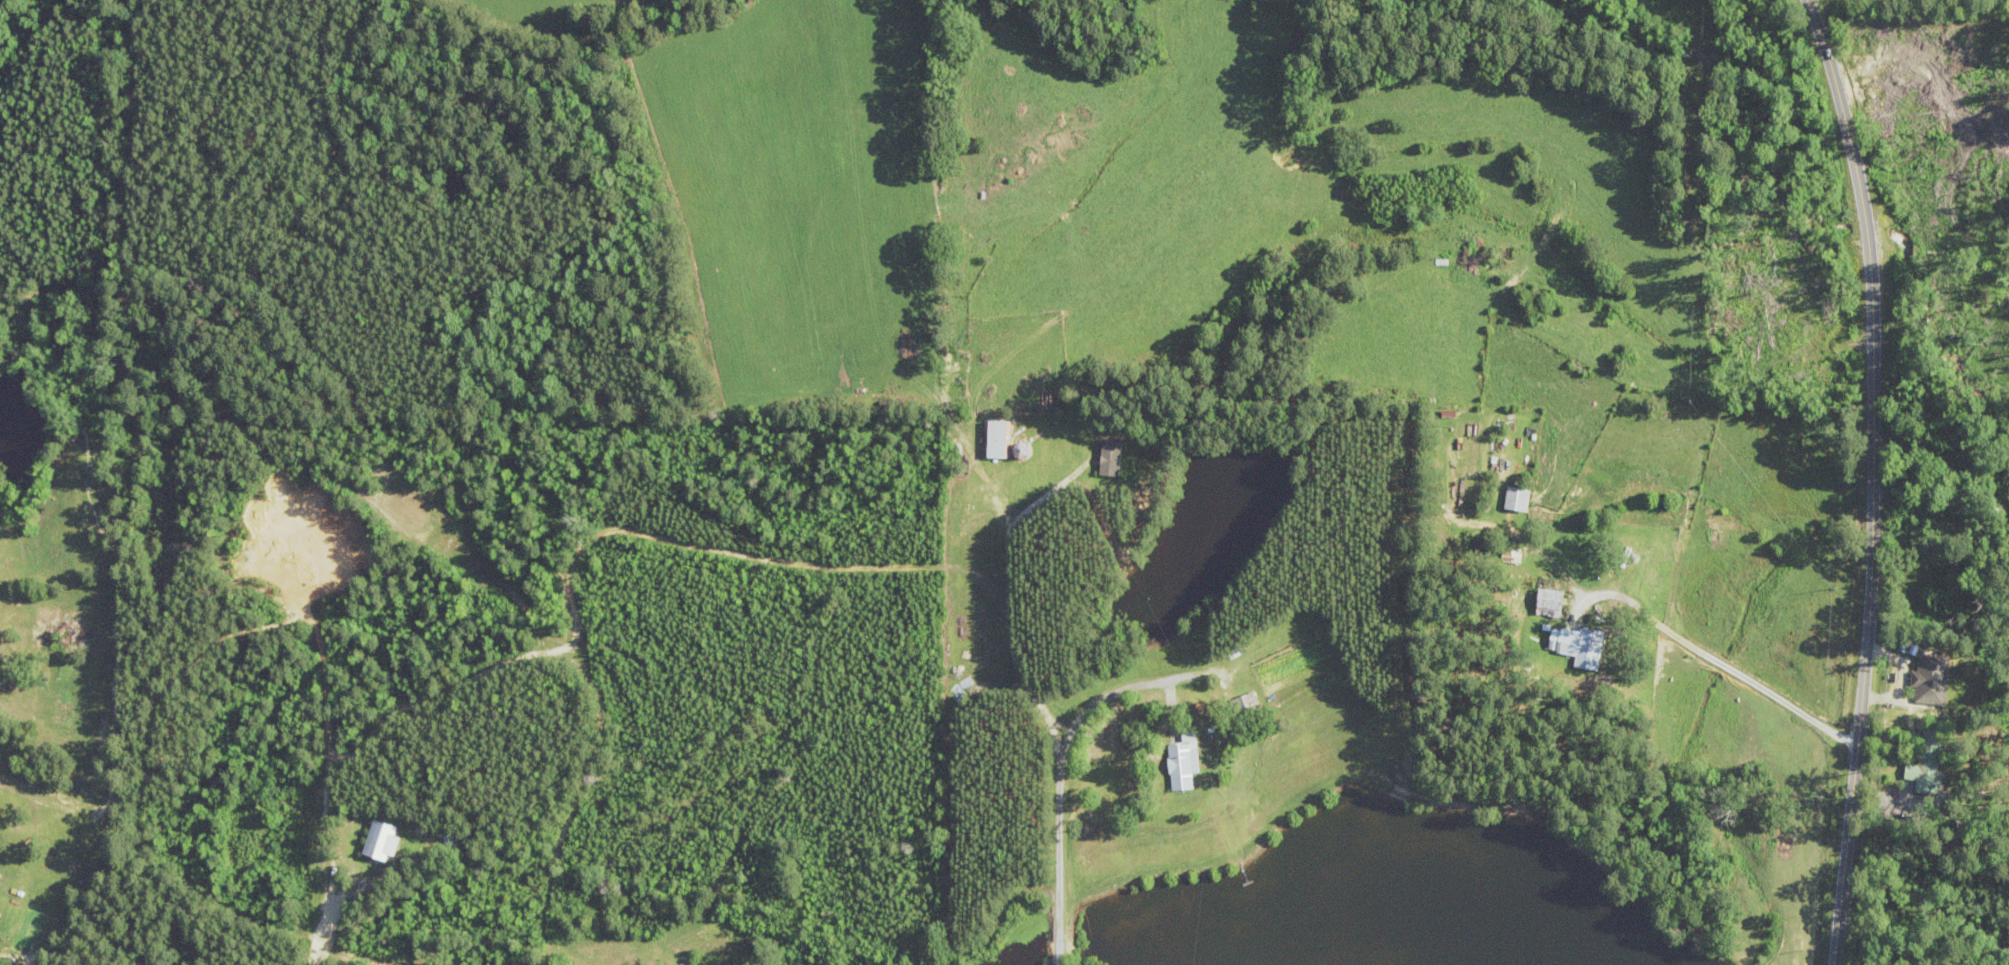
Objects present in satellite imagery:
building: (1323, 289)
building: (1138, 437)
building: (999, 438)
road: (1873, 479)
building: (1519, 498)
building: (1552, 602)
building: (1579, 645)
road: (1721, 663)
building: (1933, 679)
building: (1247, 705)
building: (1185, 761)
building: (1930, 762)
road: (1060, 779)
building: (385, 839)

